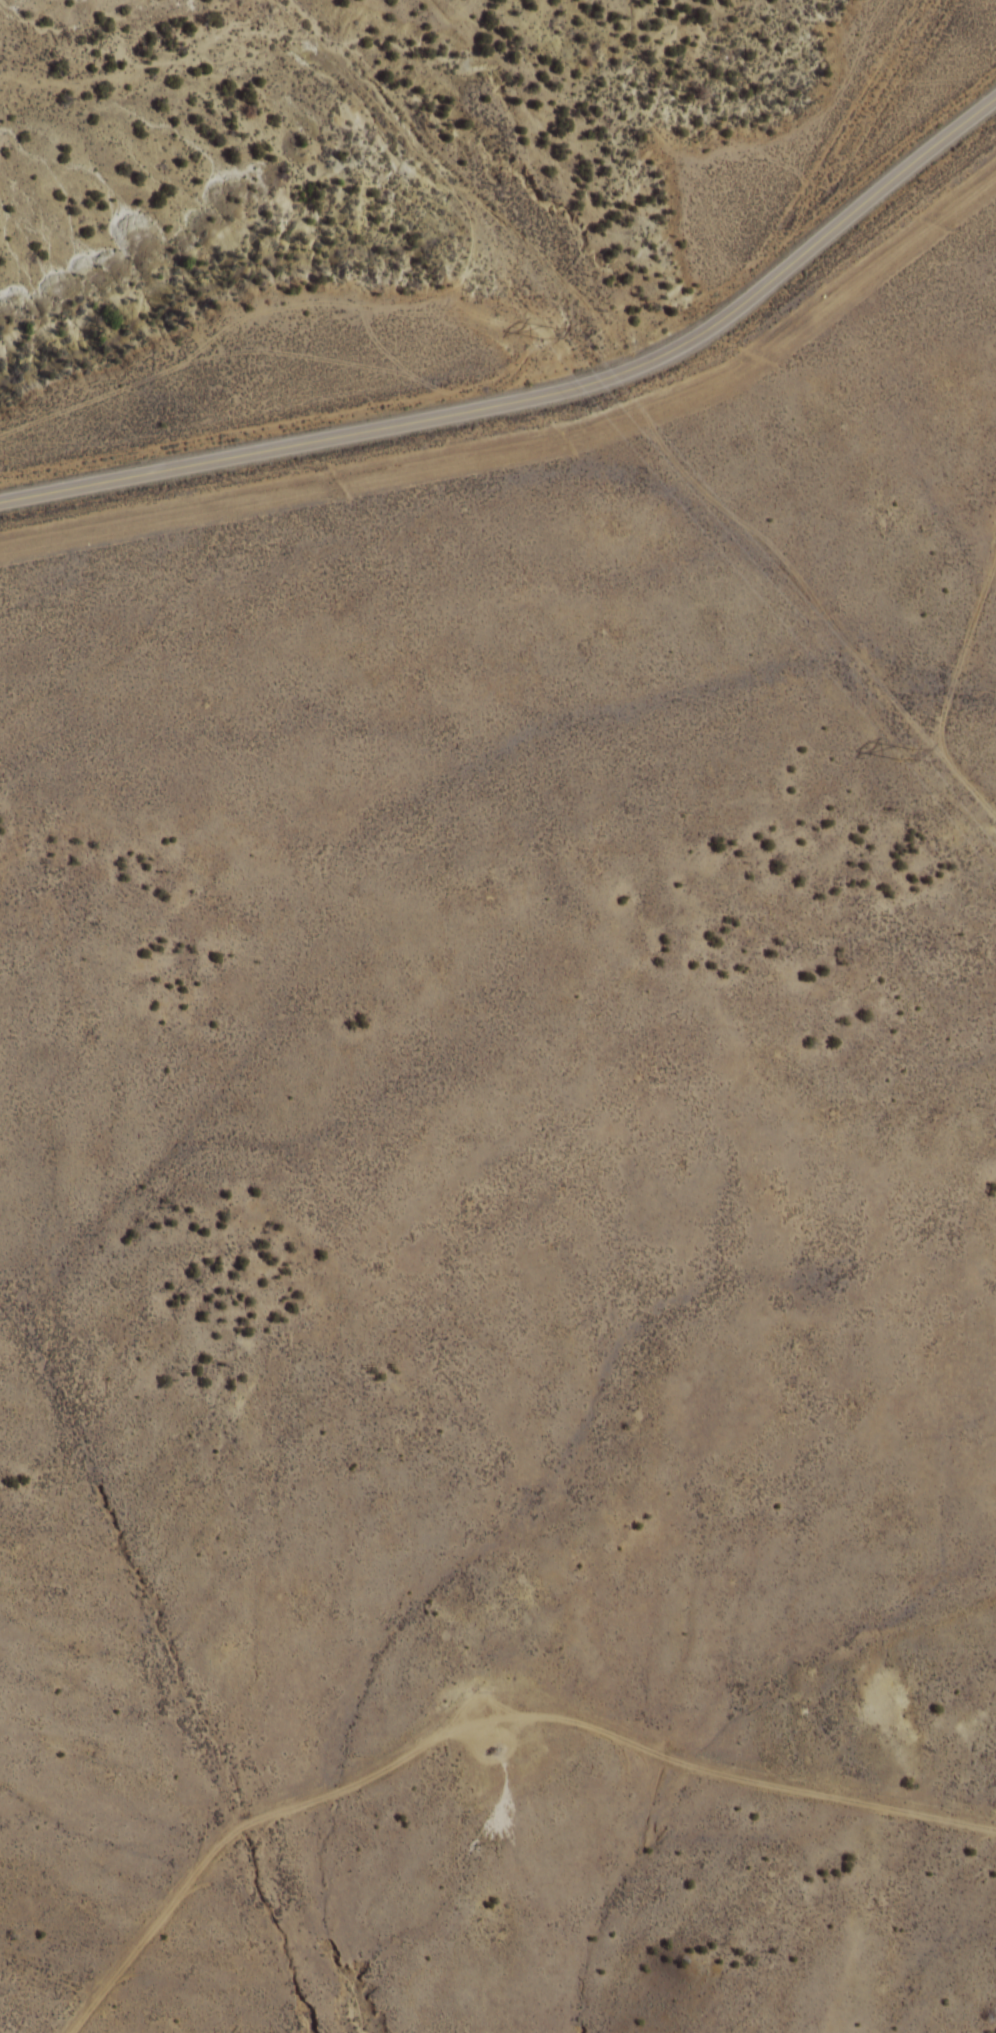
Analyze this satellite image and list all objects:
power tower: (555, 338)
road: (541, 395)
power tower: (903, 755)

